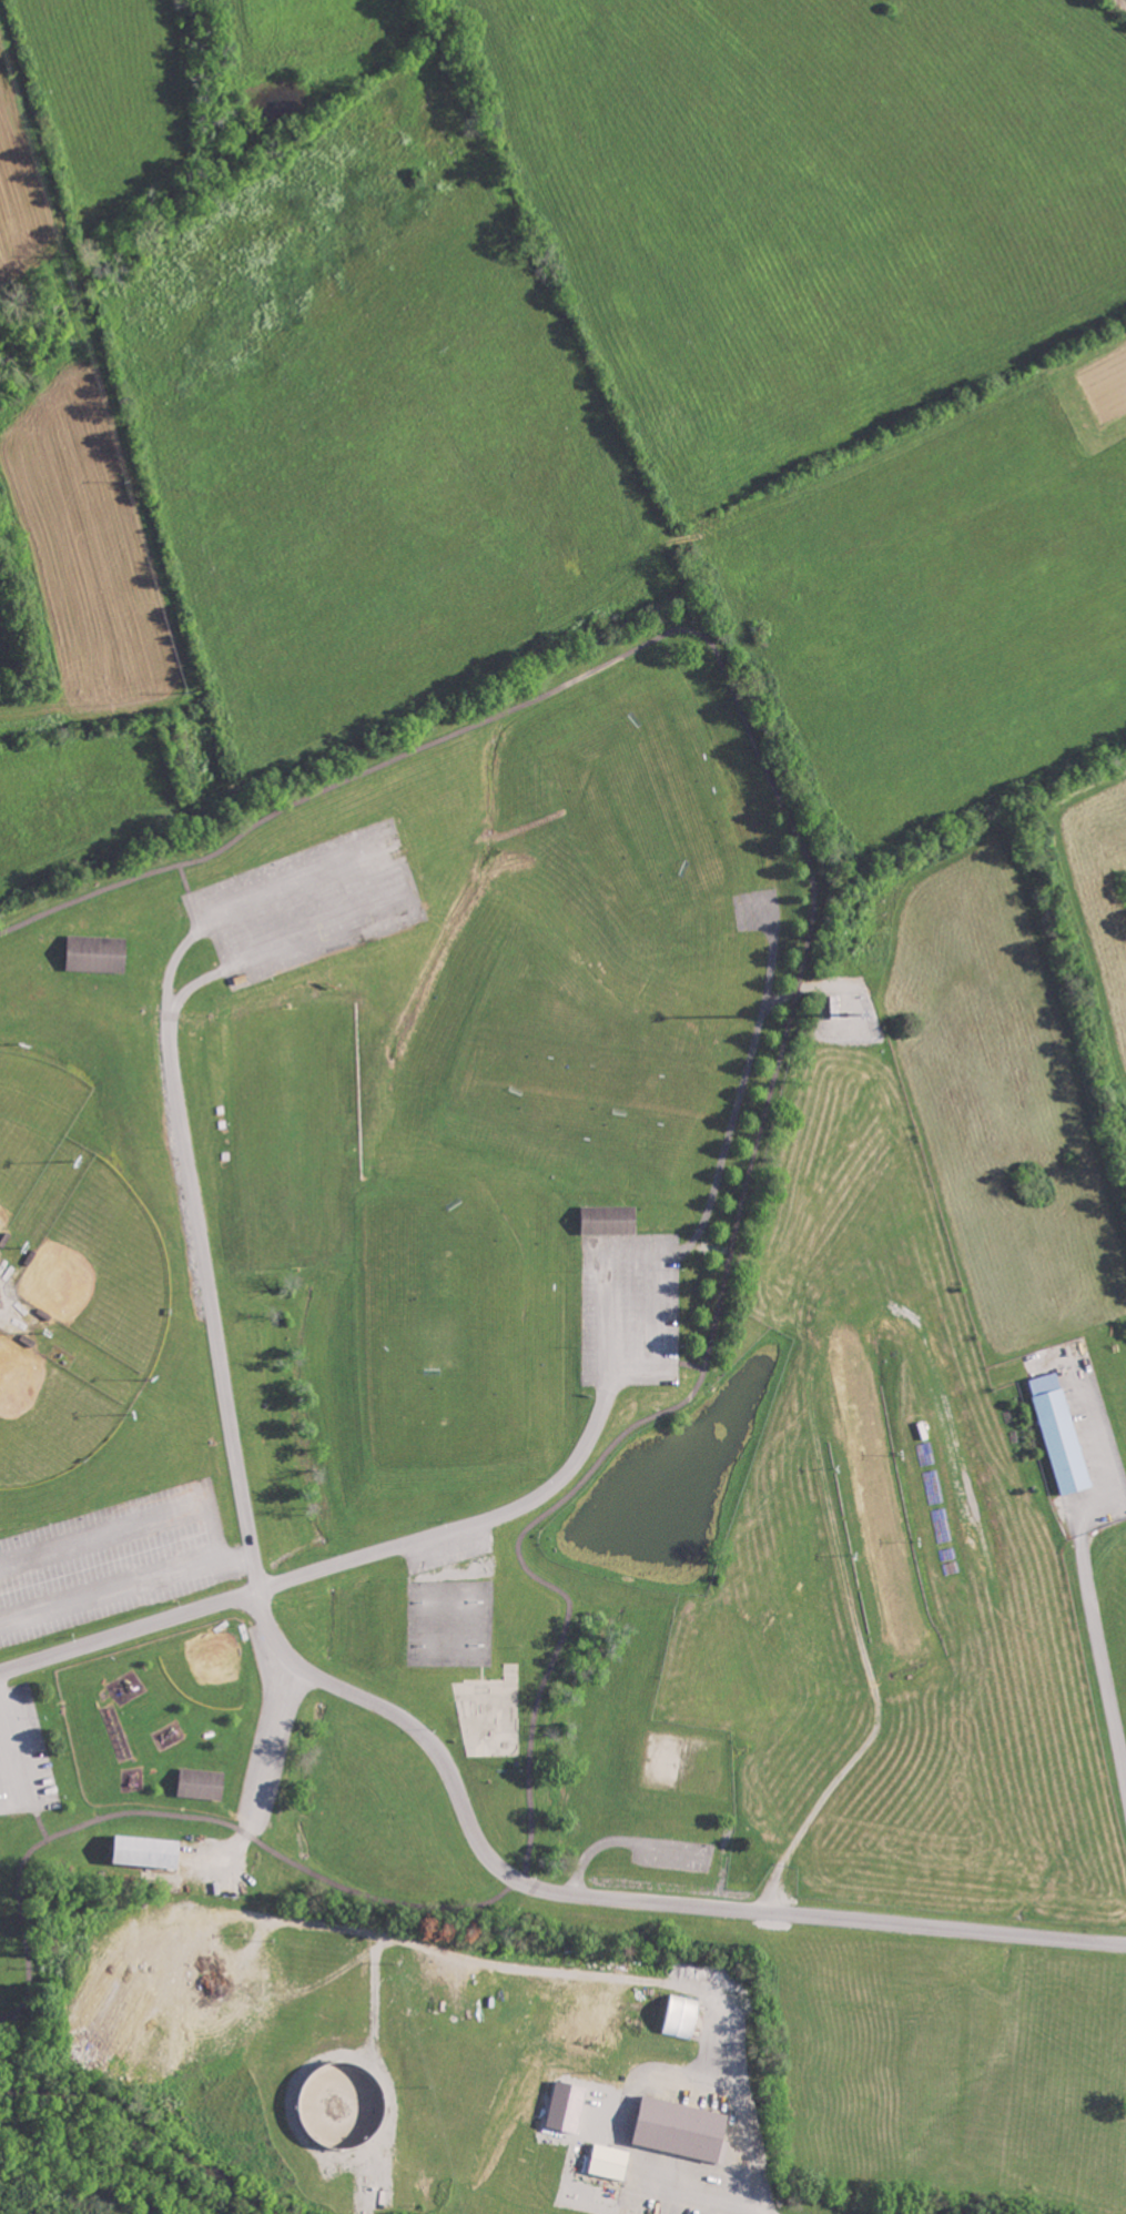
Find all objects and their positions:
road: (190, 893)
parking lot: (307, 902)
building: (95, 952)
road: (724, 1177)
building: (610, 1219)
road: (201, 1252)
road: (726, 1271)
building: (1, 1297)
parking lot: (629, 1308)
park: (595, 1386)
park: (48, 1412)
building: (1058, 1440)
road: (132, 1527)
parking lot: (448, 1550)
road: (336, 1563)
road: (126, 1590)
road: (1099, 1651)
road: (22, 1751)
parking lot: (23, 1756)
road: (263, 1772)
building: (200, 1783)
road: (38, 1818)
building: (143, 1851)
road: (616, 1898)
building: (684, 2018)
building: (671, 2131)
building: (608, 2162)
road: (702, 2182)

